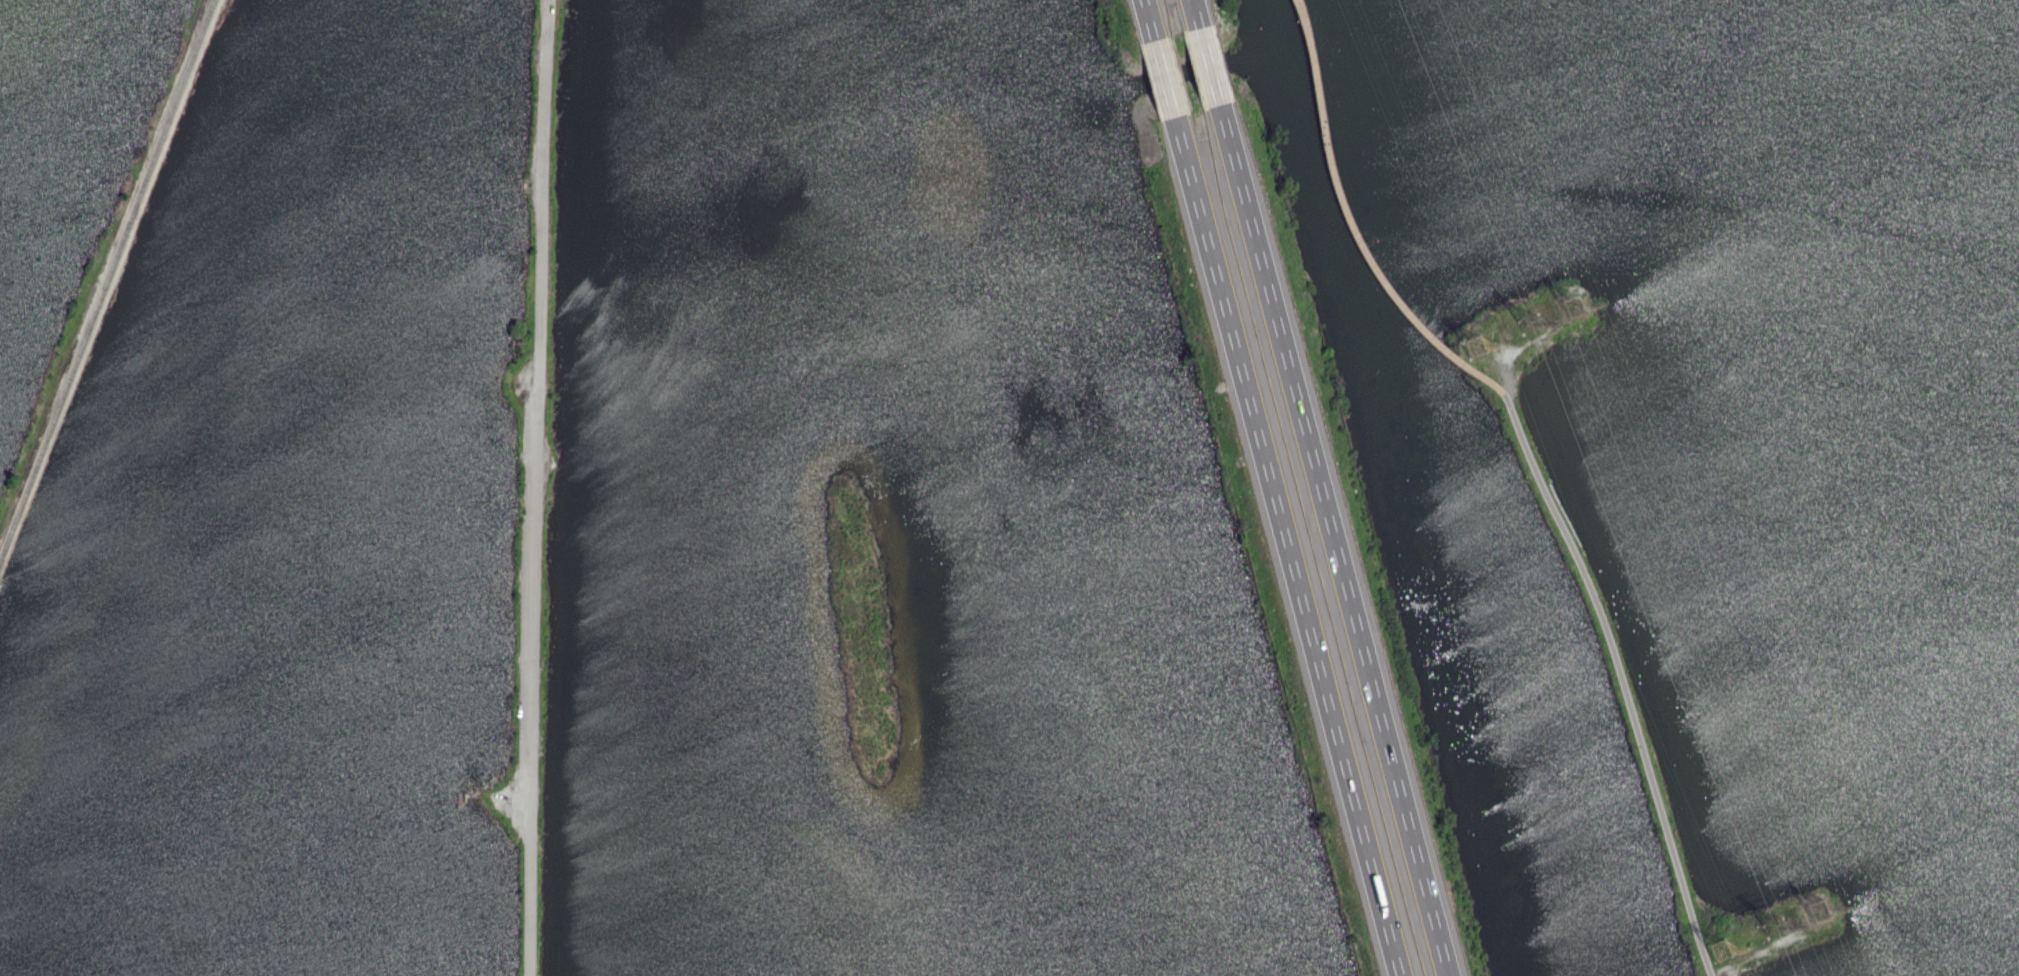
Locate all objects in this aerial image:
road: (1192, 15)
road: (1145, 20)
road: (1206, 66)
road: (1161, 77)
road: (1350, 222)
railway: (107, 281)
power tower: (1574, 308)
power tower: (1527, 324)
power tower: (1475, 349)
park: (278, 484)
road: (540, 487)
road: (1331, 538)
road: (1284, 545)
road: (1620, 678)
power tower: (1819, 911)
power tower: (1774, 930)
power tower: (1717, 954)

